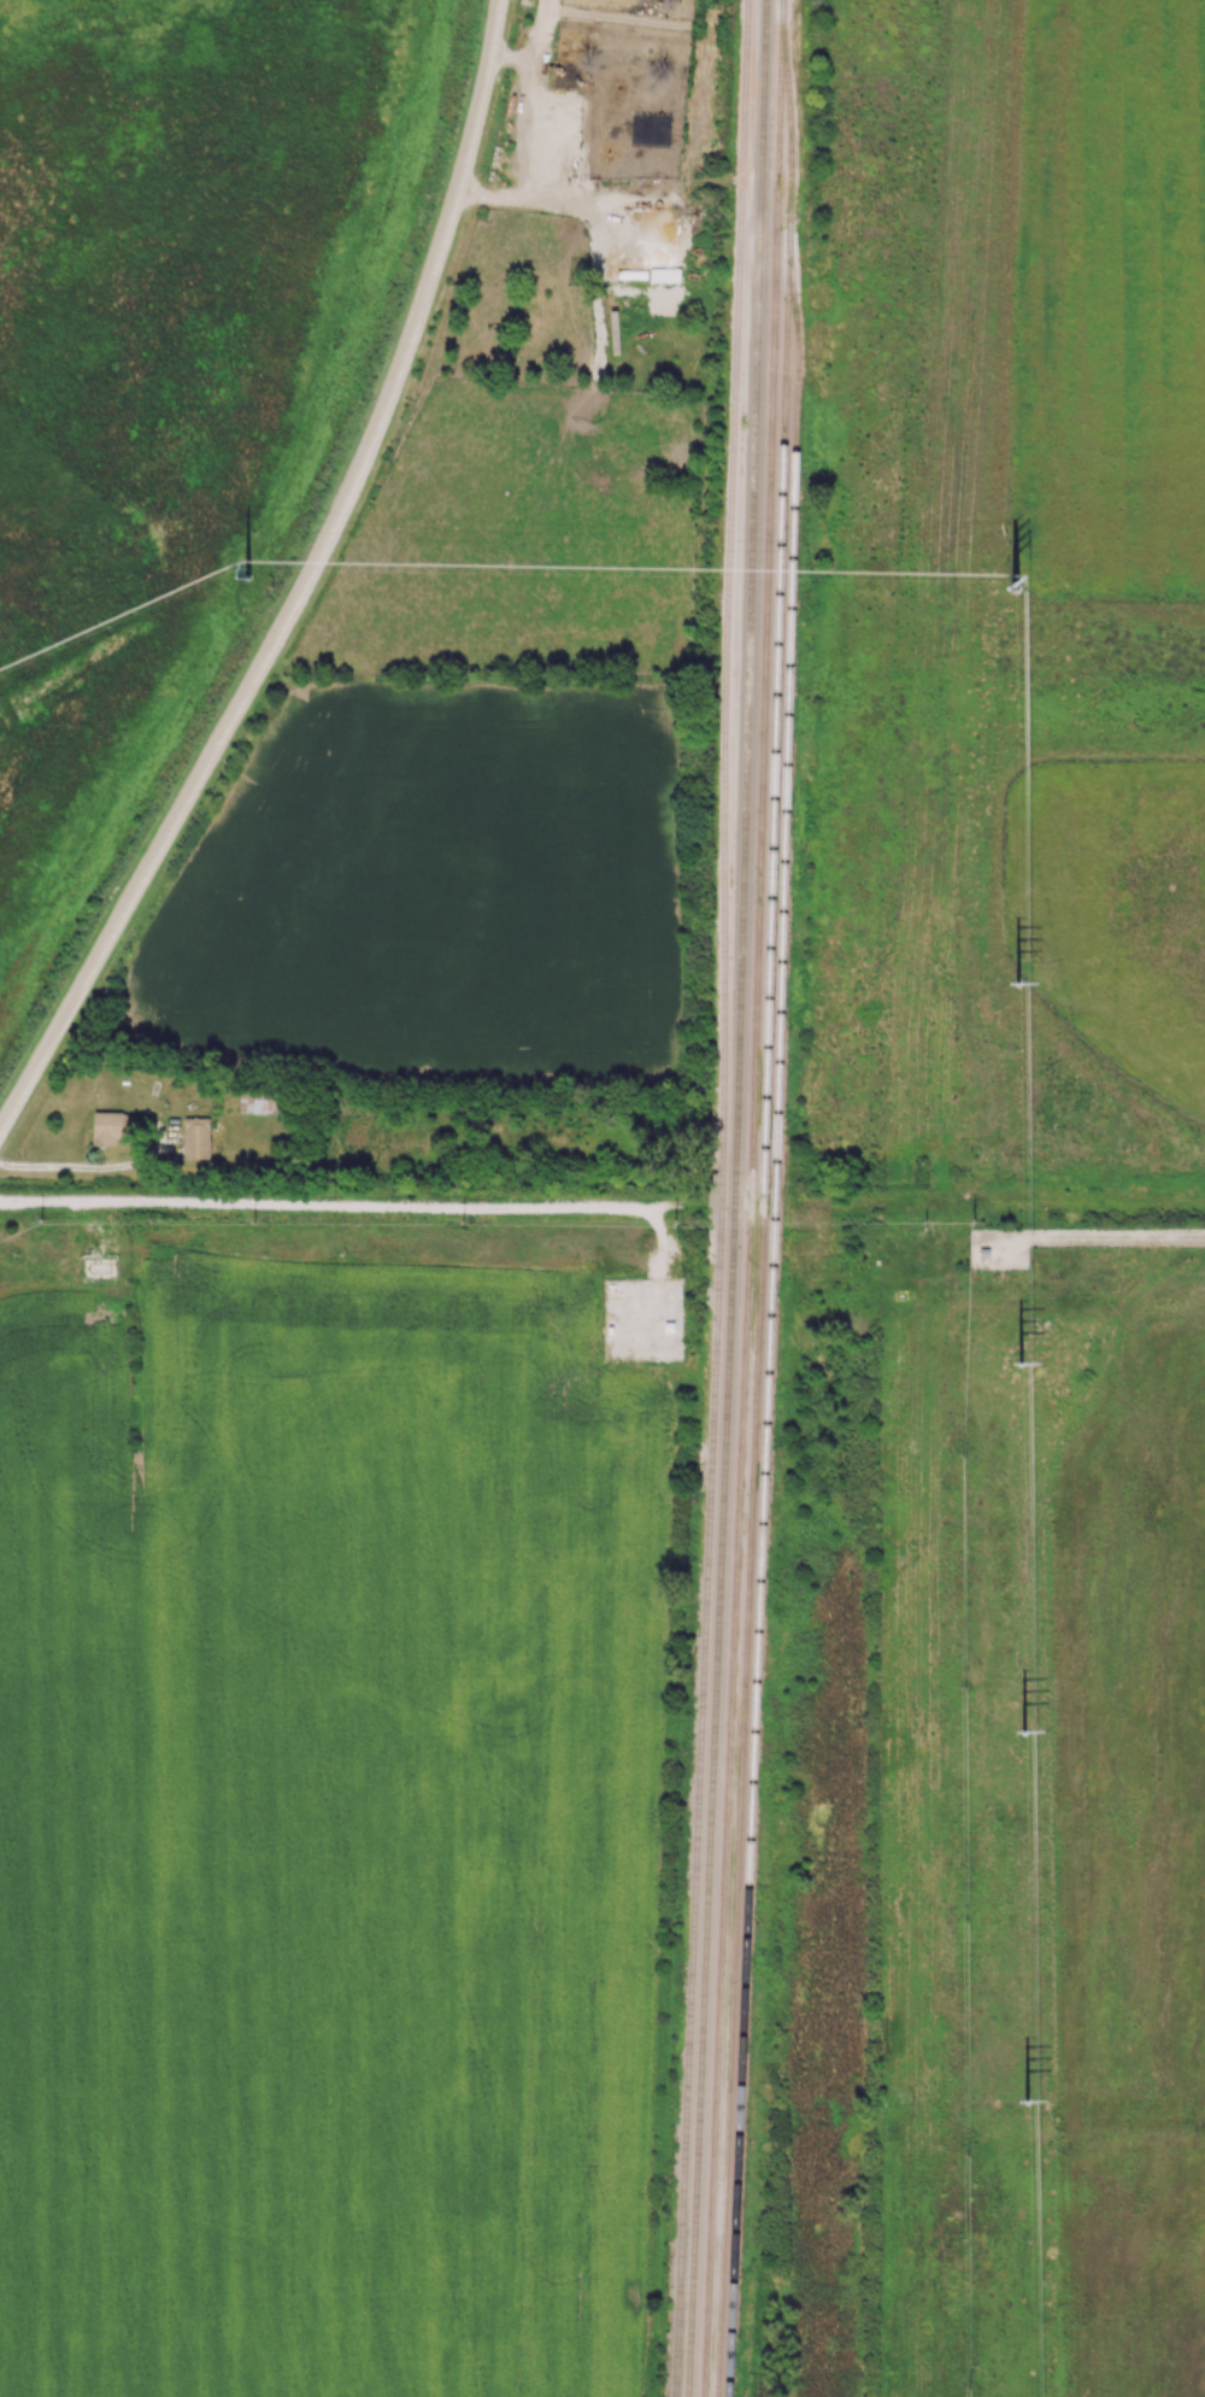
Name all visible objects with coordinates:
power tower: (247, 573)
power tower: (1011, 587)
road: (302, 588)
power tower: (1015, 981)
railway: (775, 1197)
railway: (724, 1198)
railway: (736, 1198)
railway: (752, 1198)
road: (328, 1202)
road: (1027, 1203)
railway: (758, 1352)
power tower: (1016, 1365)
power tower: (1022, 1730)
power tower: (1023, 2105)

